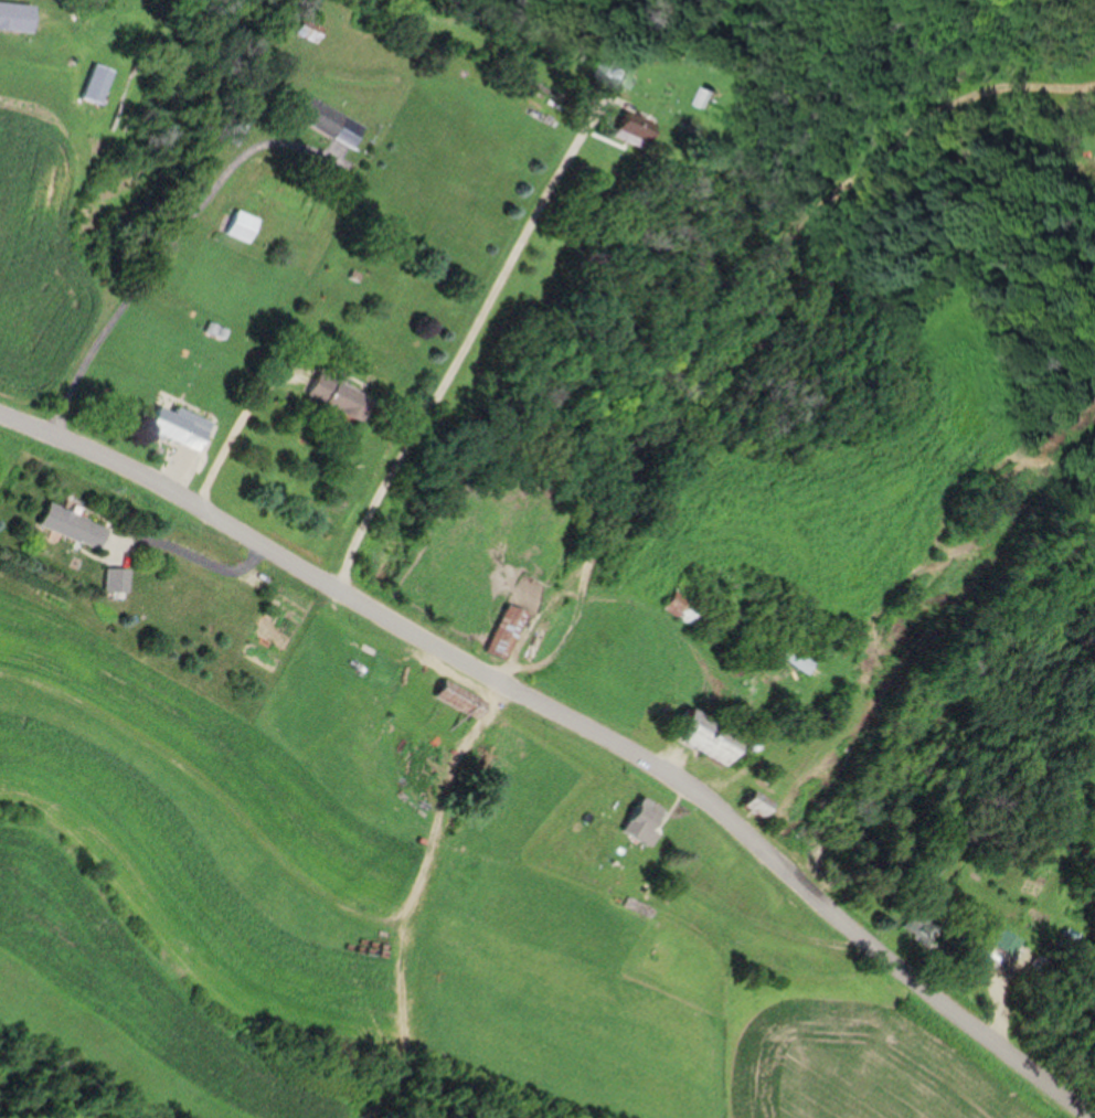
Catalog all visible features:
building: (624, 73)
building: (715, 95)
building: (319, 115)
building: (244, 225)
road: (148, 271)
road: (466, 339)
building: (342, 395)
building: (182, 425)
building: (75, 524)
building: (119, 577)
building: (693, 615)
building: (508, 630)
building: (784, 648)
road: (568, 711)
building: (712, 736)
building: (761, 806)
building: (645, 818)

